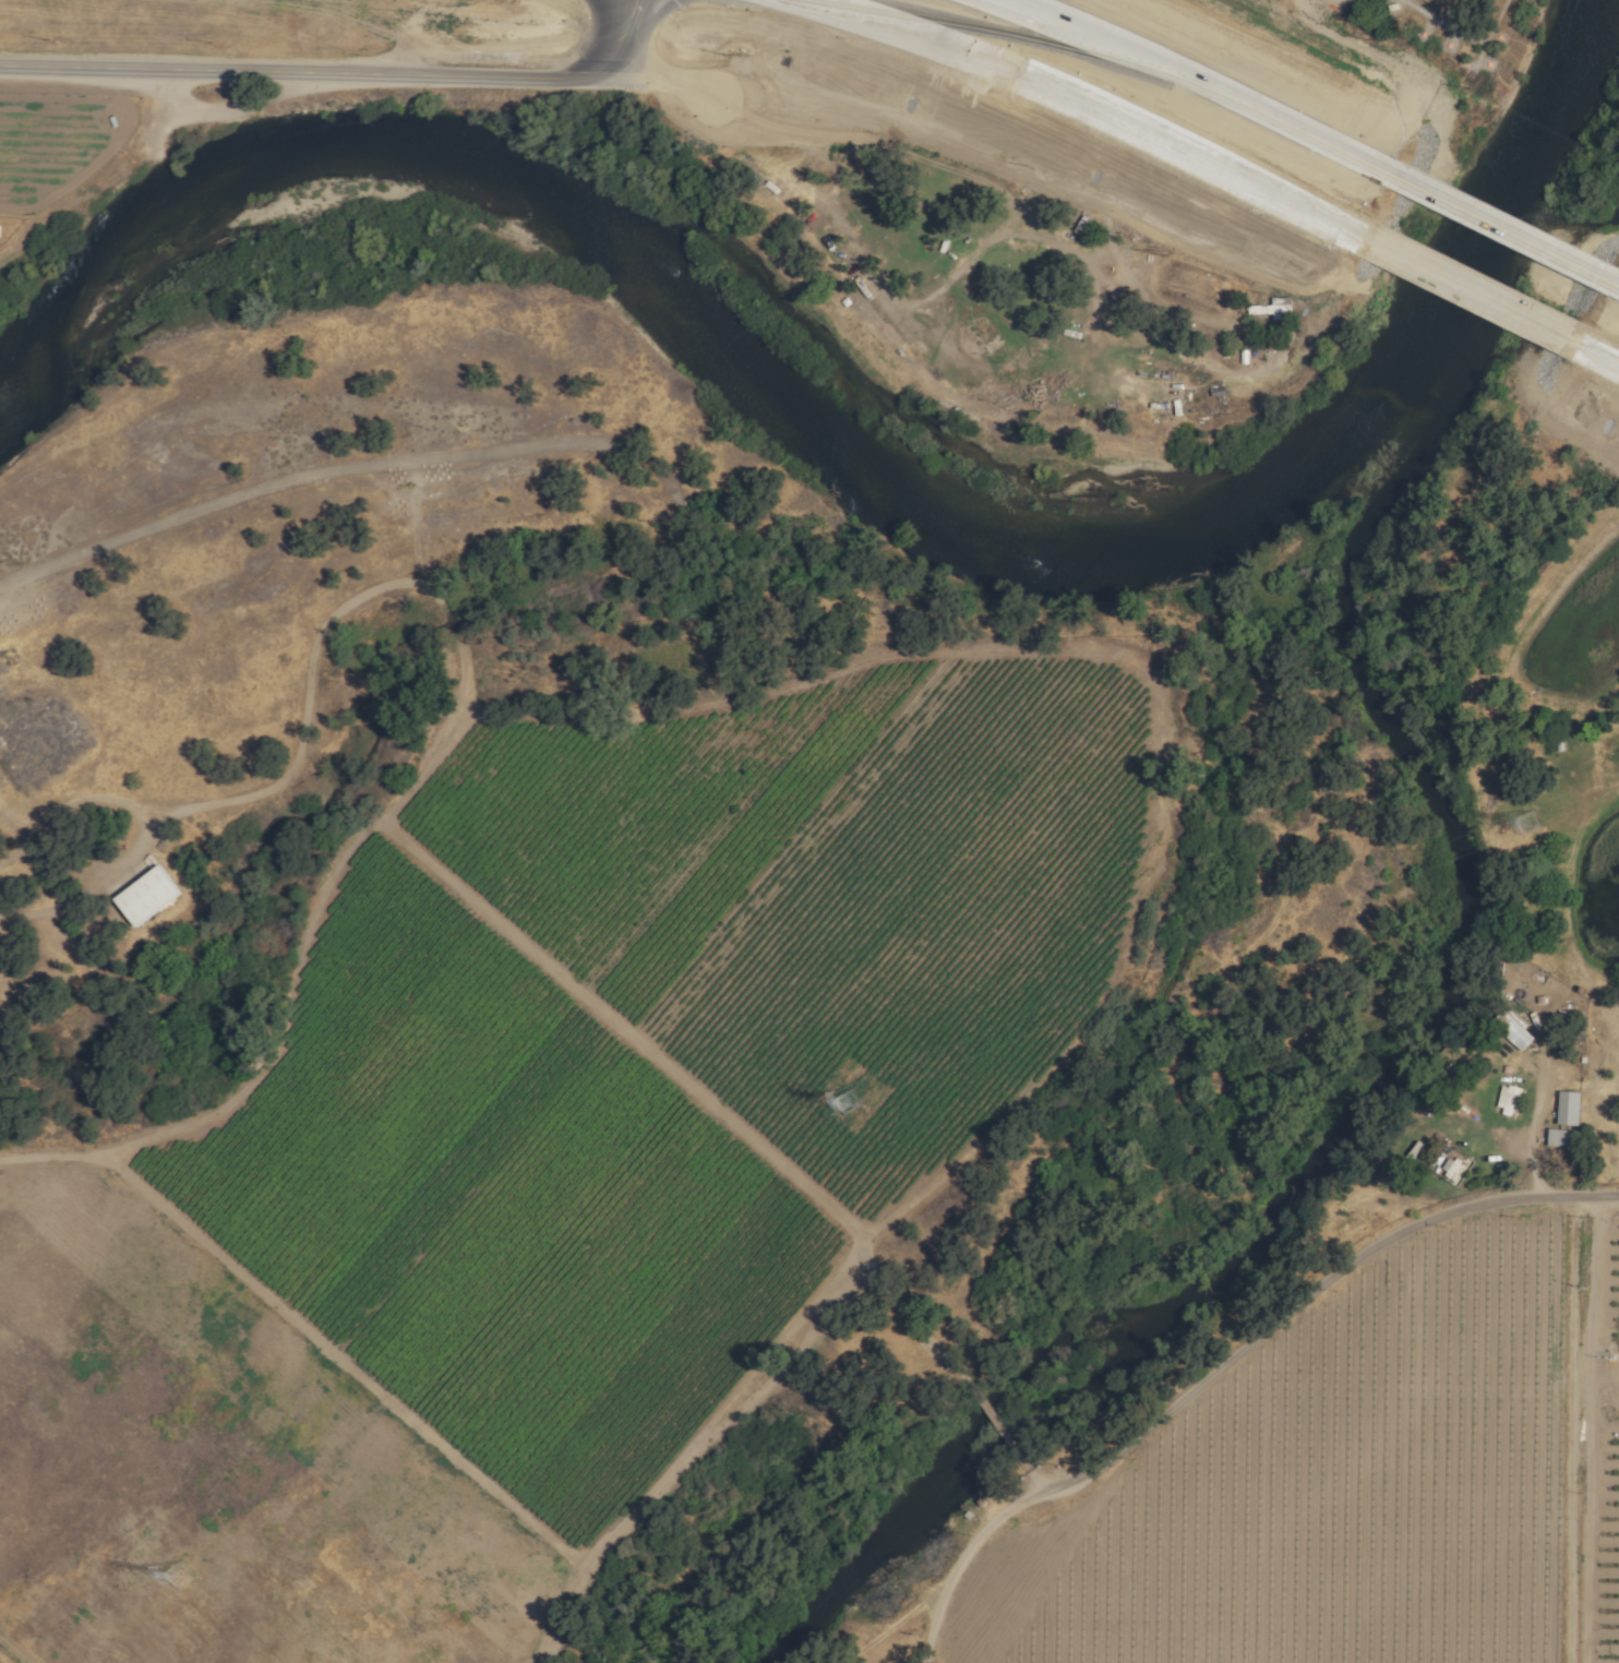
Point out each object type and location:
road: (625, 27)
river: (1612, 56)
road: (309, 73)
road: (650, 73)
road: (1203, 85)
road: (1091, 108)
river: (1576, 131)
road: (1508, 231)
river: (1492, 278)
road: (1615, 283)
road: (1472, 290)
building: (1269, 311)
river: (703, 327)
road: (1595, 351)
road: (308, 675)
power tower: (1530, 825)
building: (142, 896)
building: (1510, 1030)
road: (266, 1077)
building: (1448, 1082)
crop: (1609, 1087)
road: (694, 1092)
building: (1506, 1099)
power tower: (851, 1103)
road: (1537, 1109)
building: (1566, 1109)
river: (1379, 1111)
building: (1559, 1138)
building: (1455, 1169)
road: (1329, 1279)
road: (1005, 1427)
road: (1573, 1428)
road: (1591, 1428)
crop: (1610, 1456)
crop: (215, 1470)
road: (1050, 1479)
road: (973, 1541)
power tower: (179, 1577)

